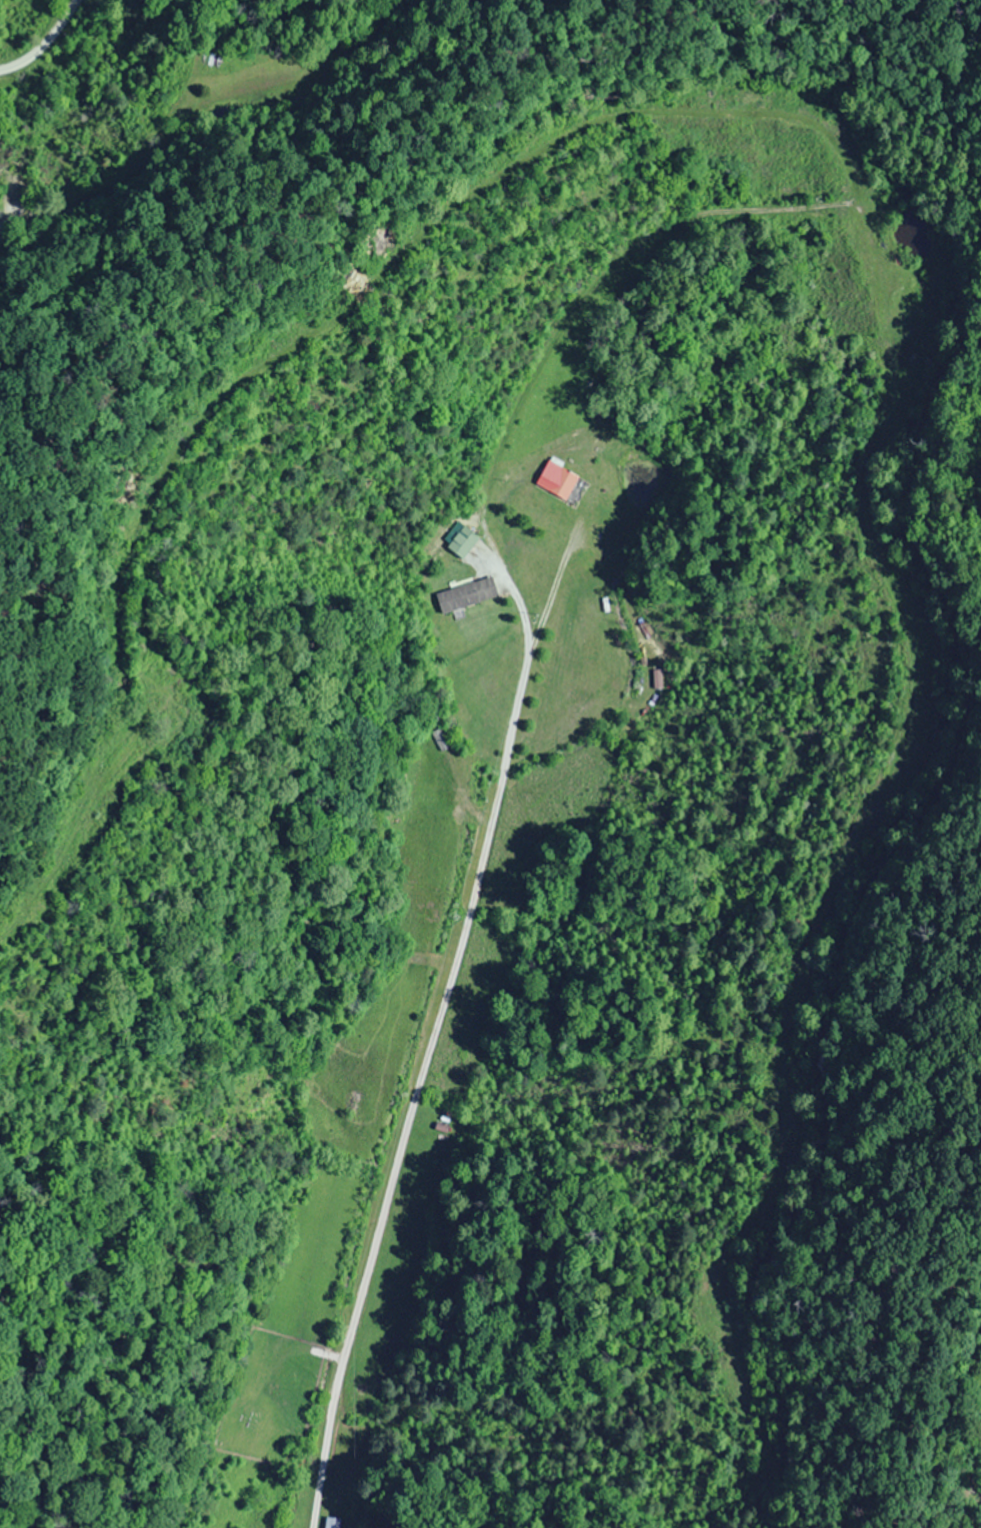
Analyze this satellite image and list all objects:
road: (47, 54)
building: (556, 478)
building: (462, 541)
building: (465, 593)
building: (658, 678)
road: (420, 1086)
building: (333, 1523)

